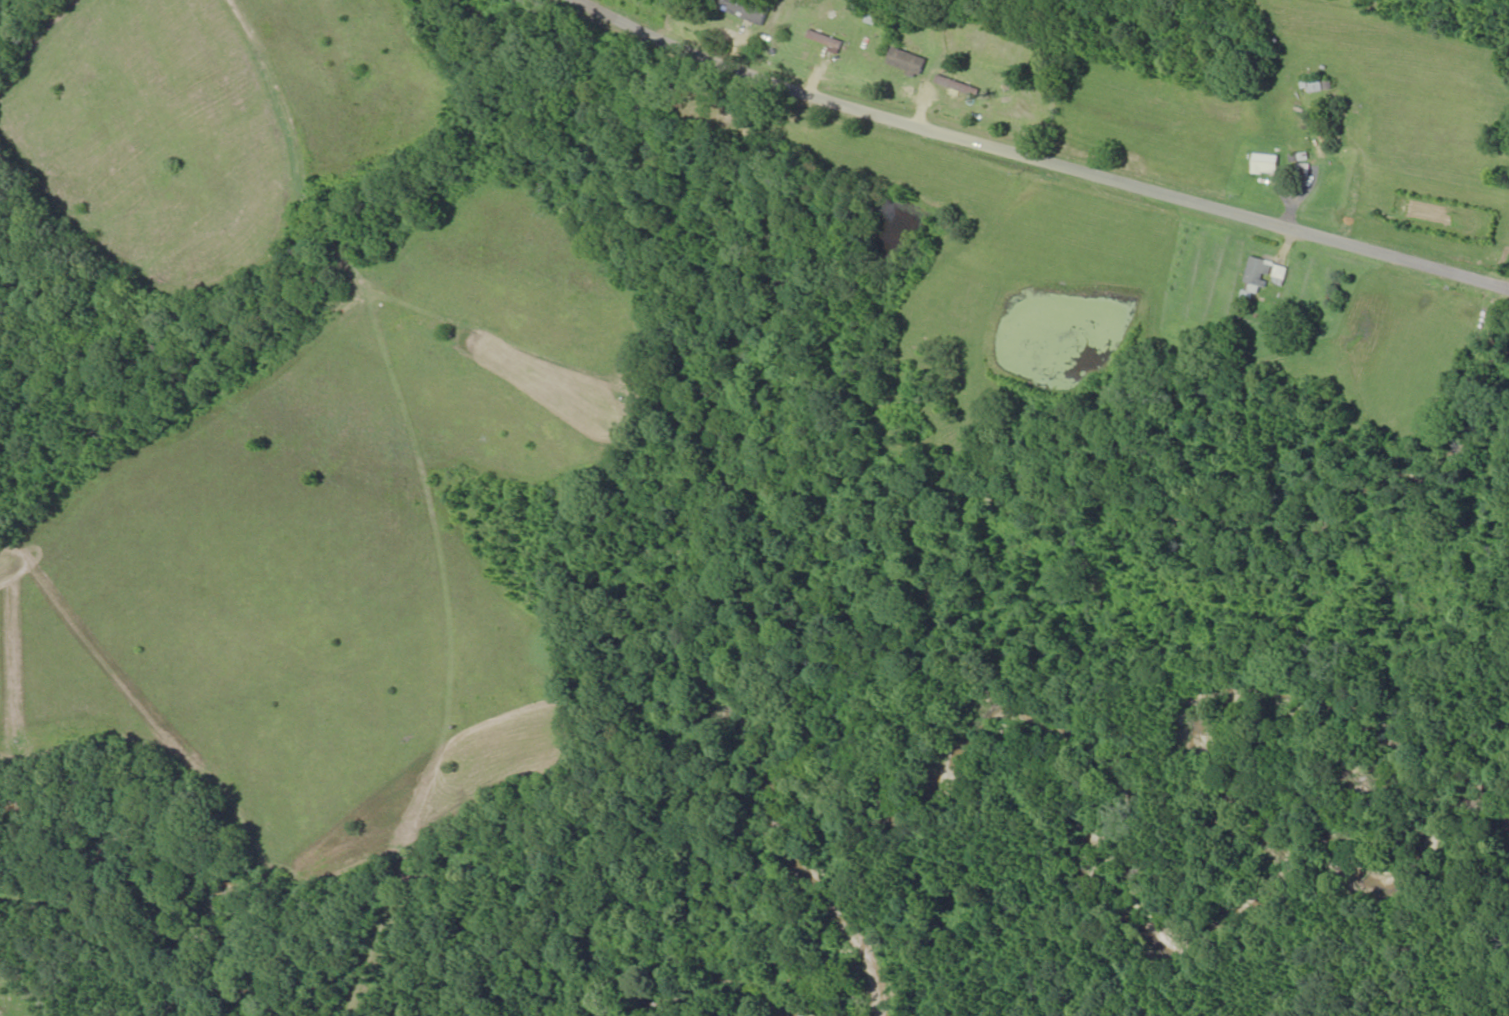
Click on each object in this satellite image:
building: (746, 11)
building: (826, 41)
building: (907, 62)
building: (948, 83)
building: (1313, 86)
road: (1050, 155)
road: (310, 164)
building: (1266, 165)
building: (1305, 174)
building: (1264, 278)

